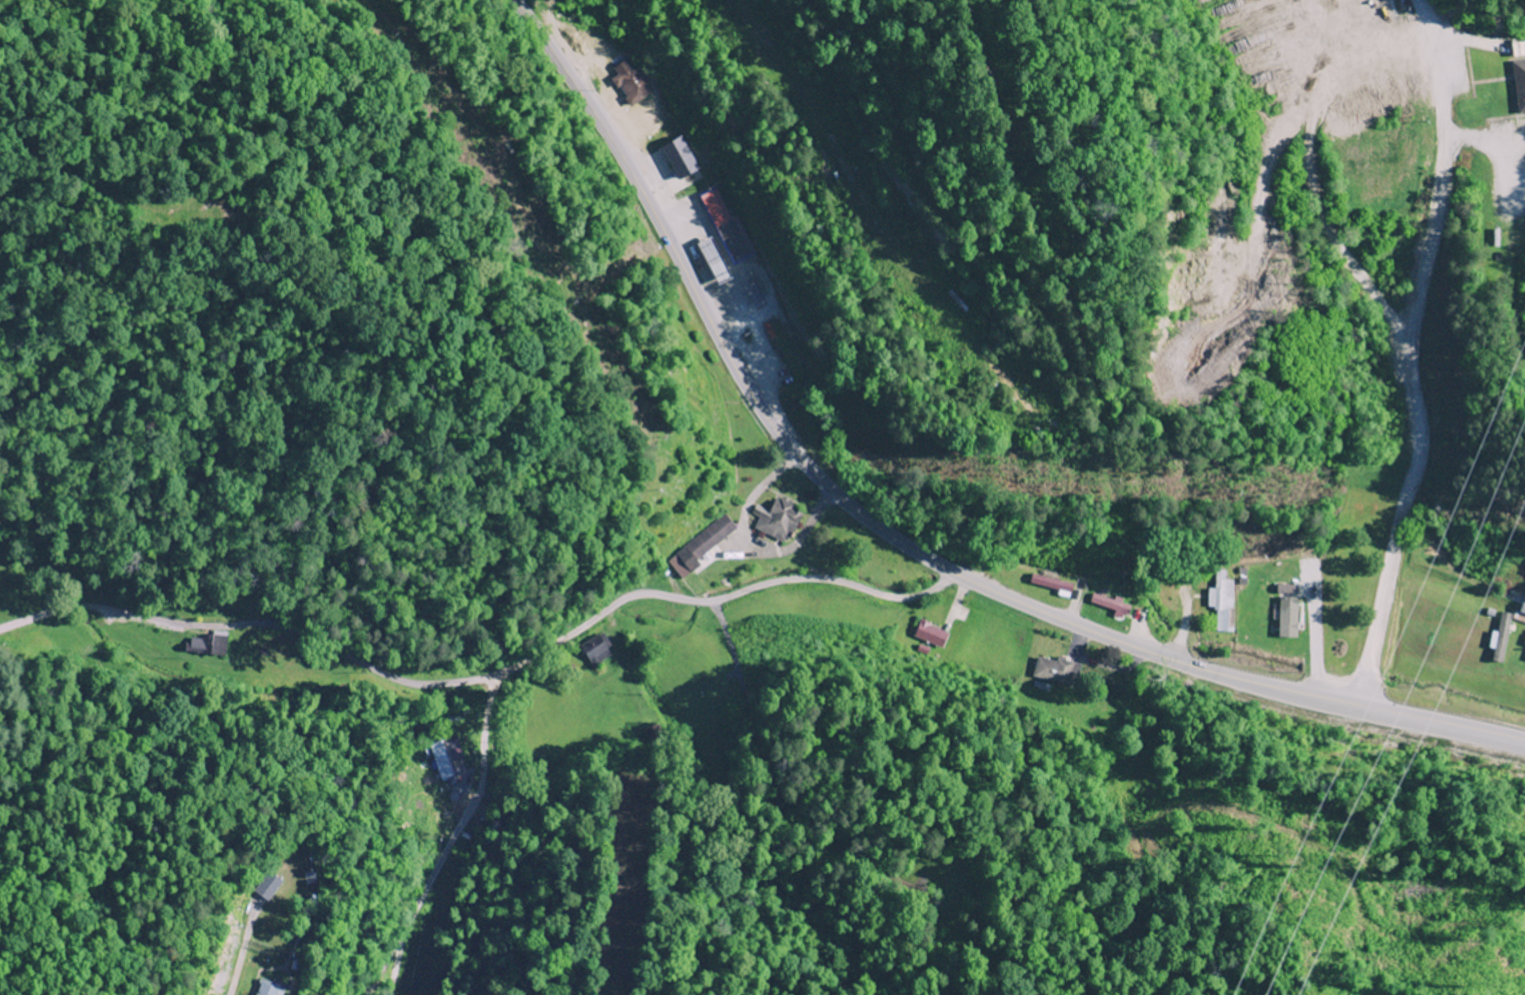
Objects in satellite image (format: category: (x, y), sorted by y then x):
building: (1519, 84)
building: (777, 520)
road: (895, 540)
building: (704, 543)
building: (1309, 576)
building: (1052, 585)
building: (1222, 600)
building: (1109, 603)
building: (1279, 604)
road: (259, 625)
building: (930, 634)
road: (561, 637)
building: (210, 645)
building: (1058, 671)
building: (265, 988)

